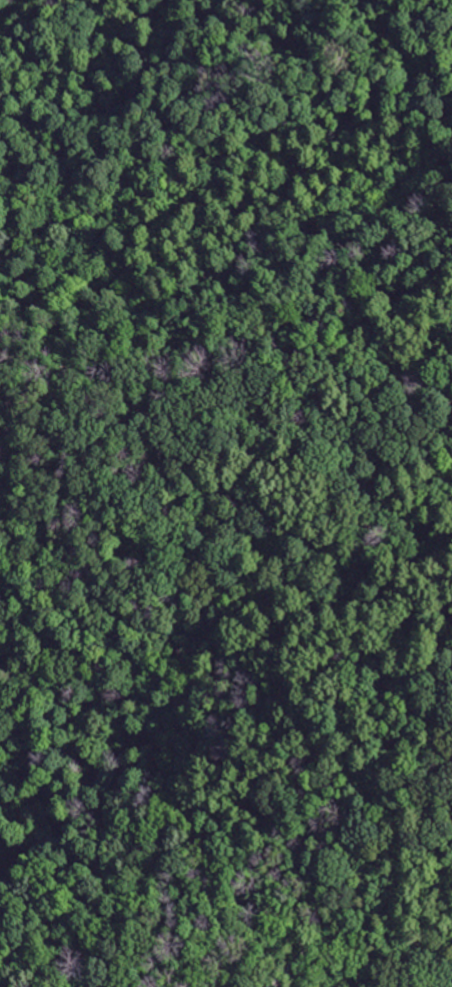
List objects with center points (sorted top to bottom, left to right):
road: (370, 938)

